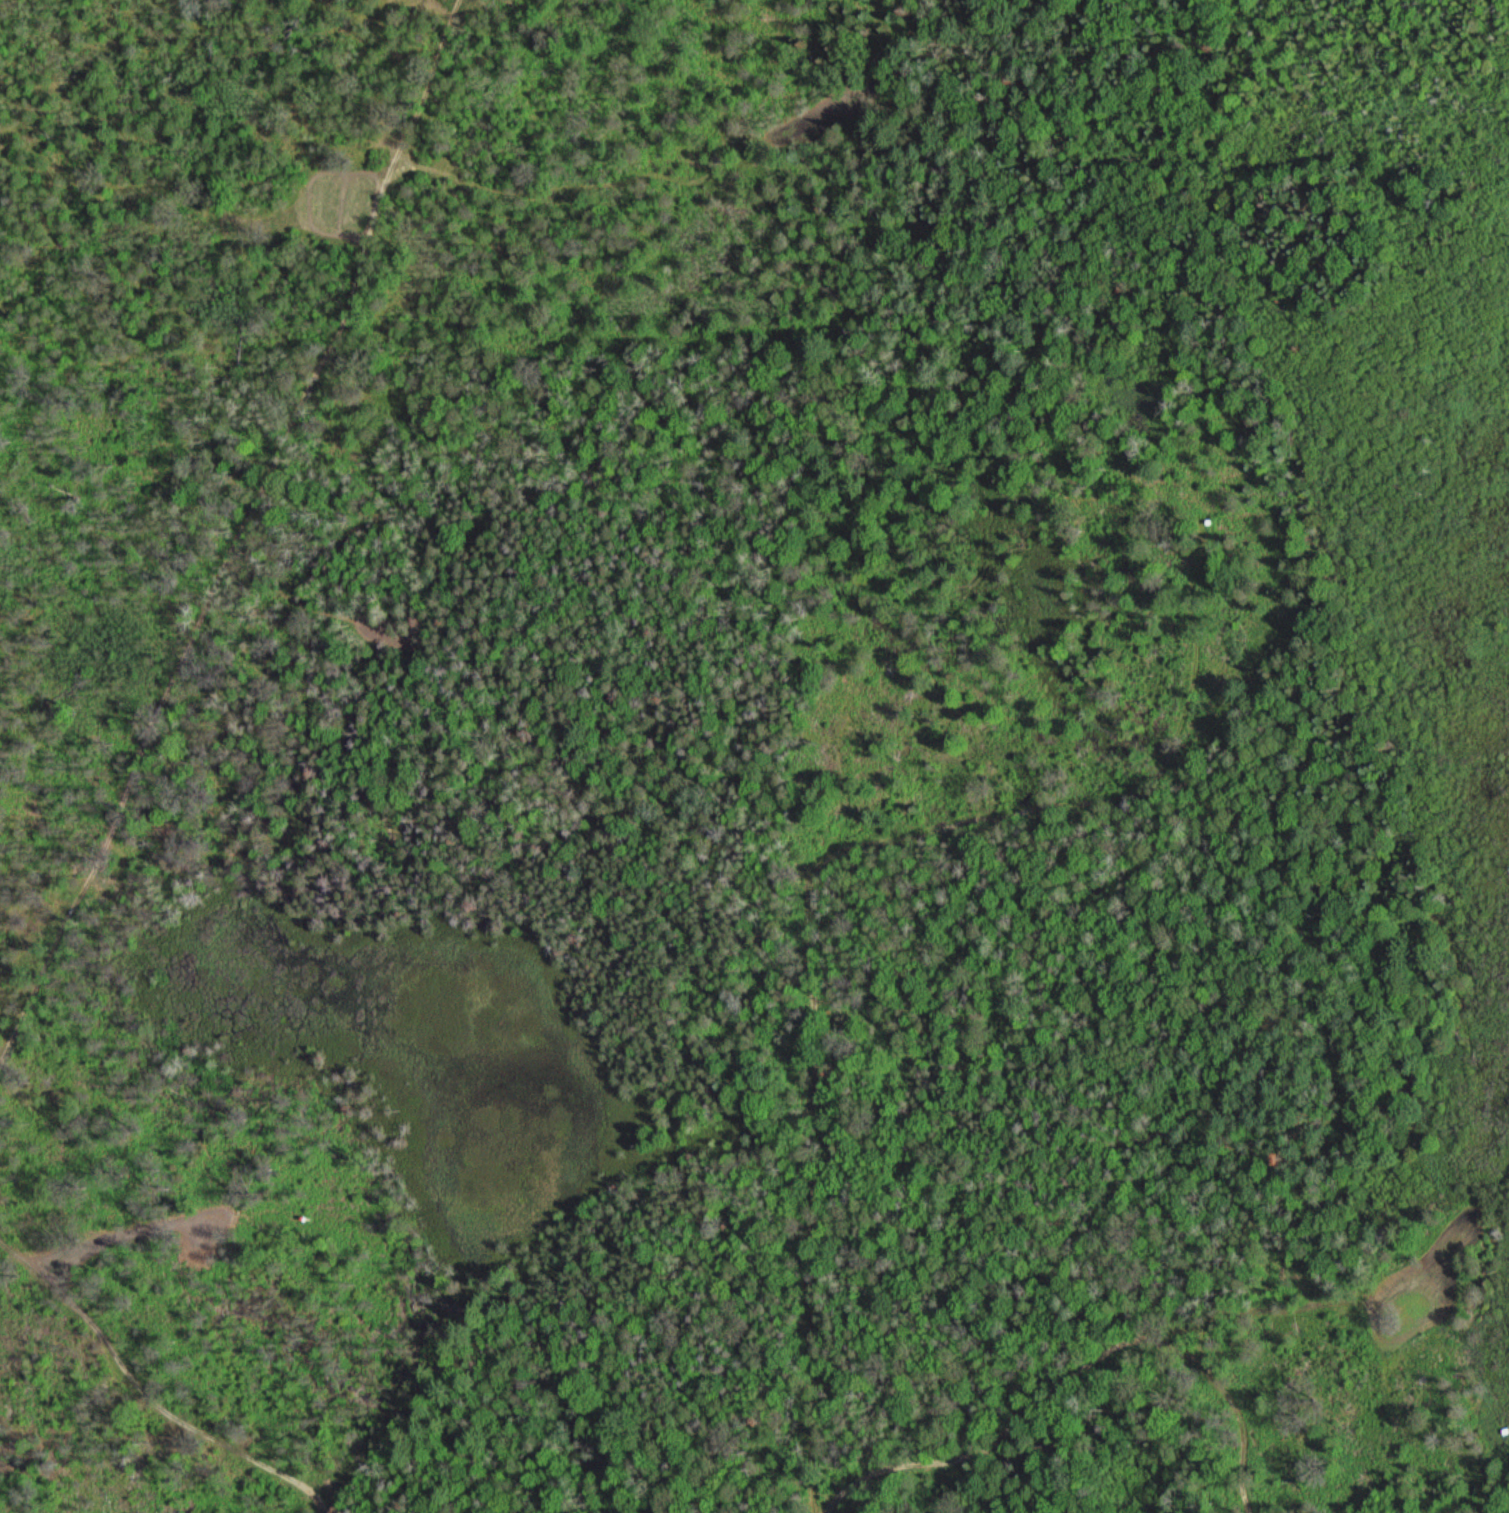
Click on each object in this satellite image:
road: (241, 539)
road: (146, 1390)

